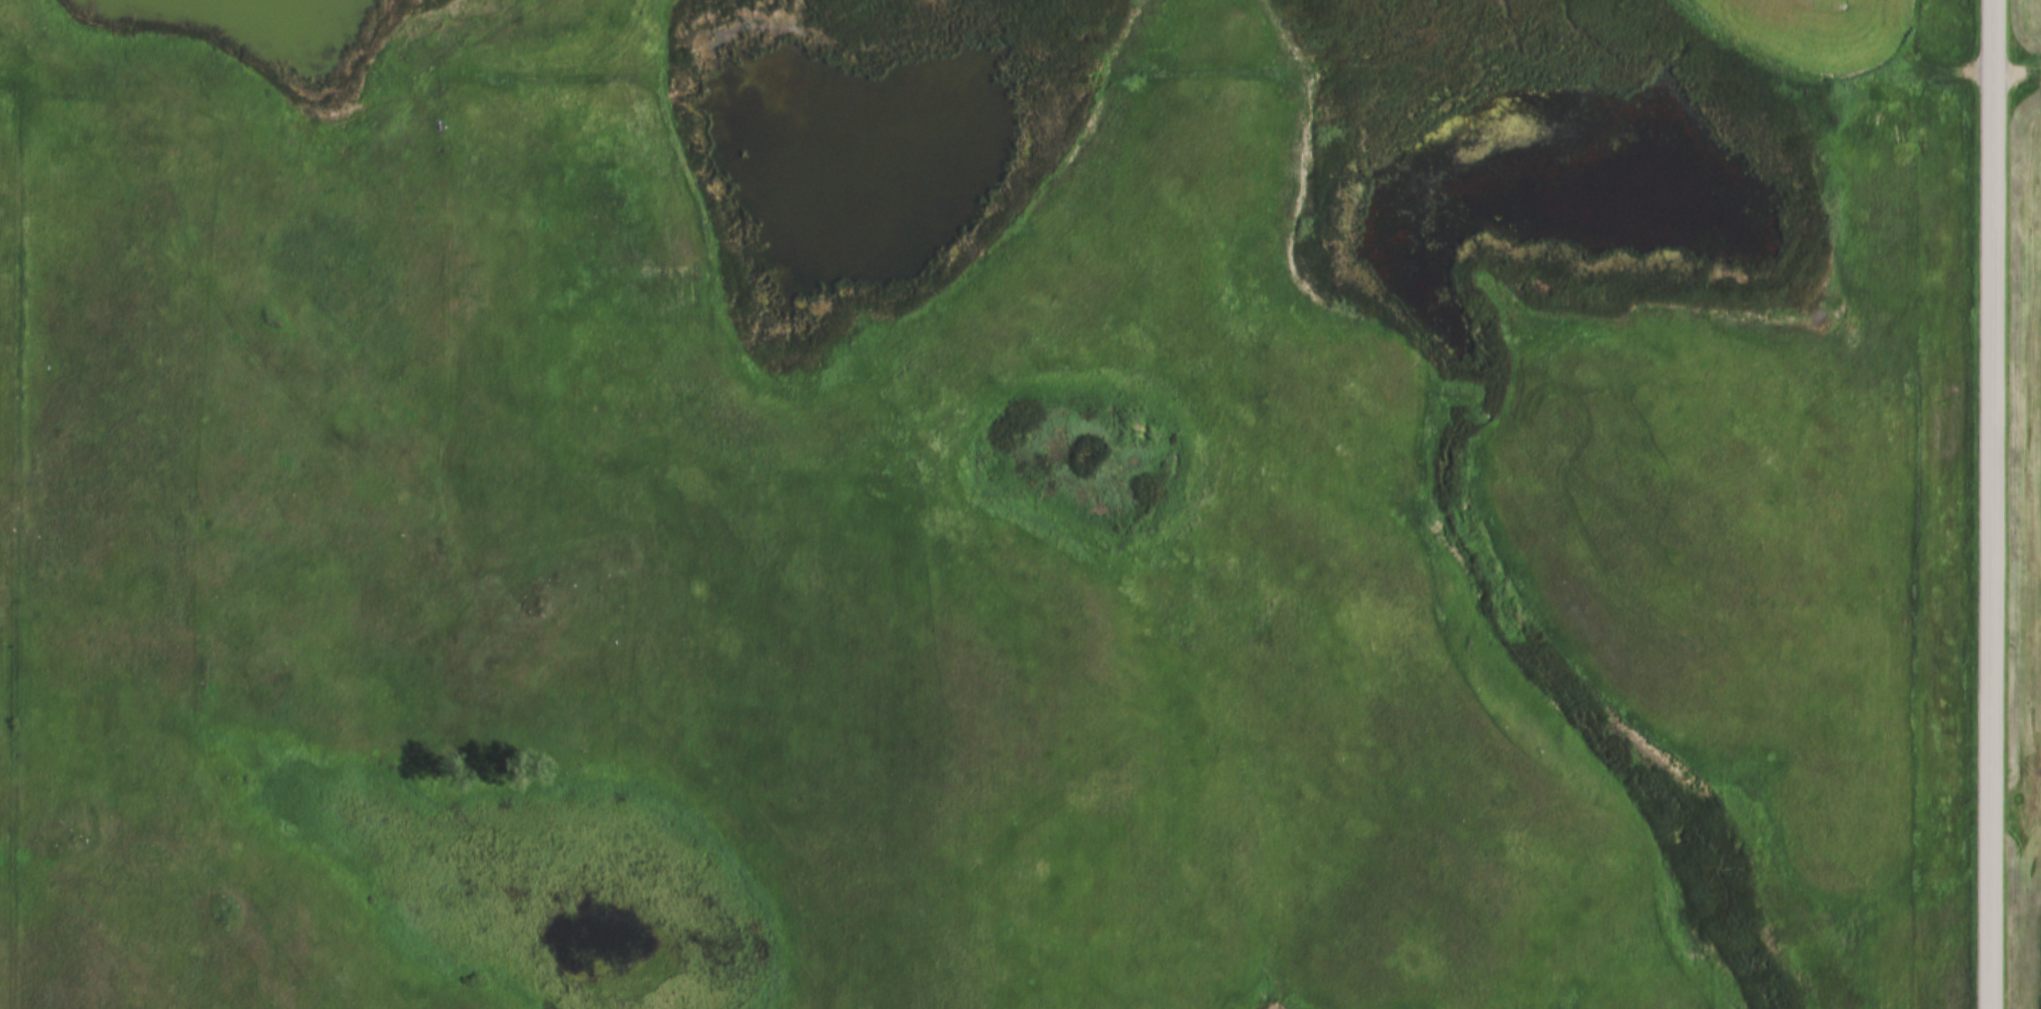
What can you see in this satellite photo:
road: (1992, 504)

